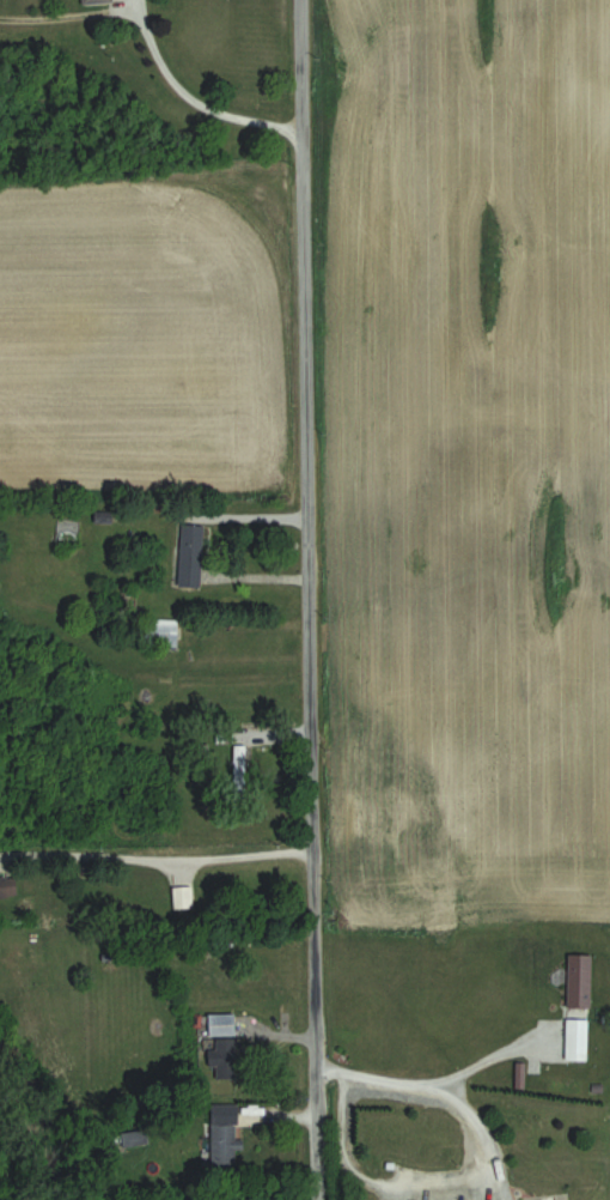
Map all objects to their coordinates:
building: (98, 1)
road: (68, 14)
road: (185, 102)
road: (195, 523)
building: (193, 554)
road: (305, 599)
road: (154, 865)
building: (172, 893)
building: (580, 980)
building: (578, 1038)
road: (504, 1046)
building: (221, 1050)
building: (227, 1138)
road: (481, 1177)

